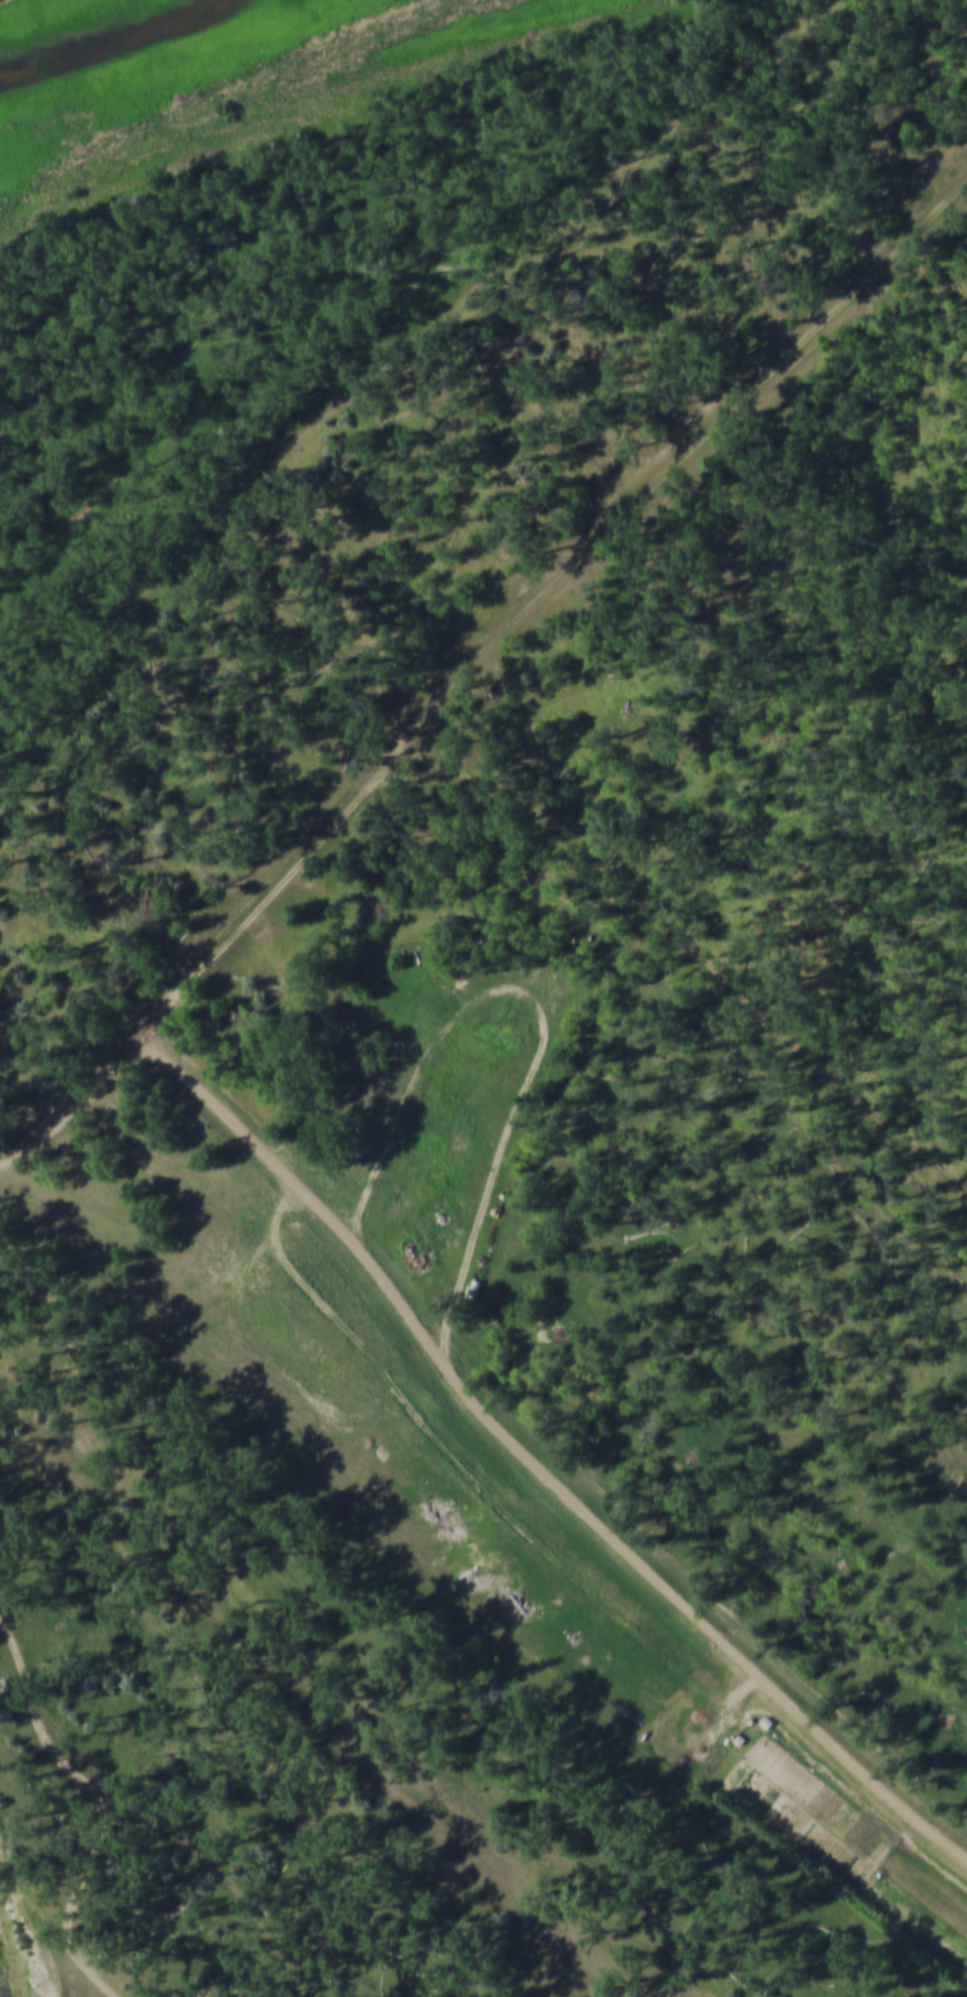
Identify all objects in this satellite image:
road: (537, 610)
road: (498, 1170)
road: (477, 1402)
road: (141, 1814)
road: (91, 1867)
road: (68, 1939)

